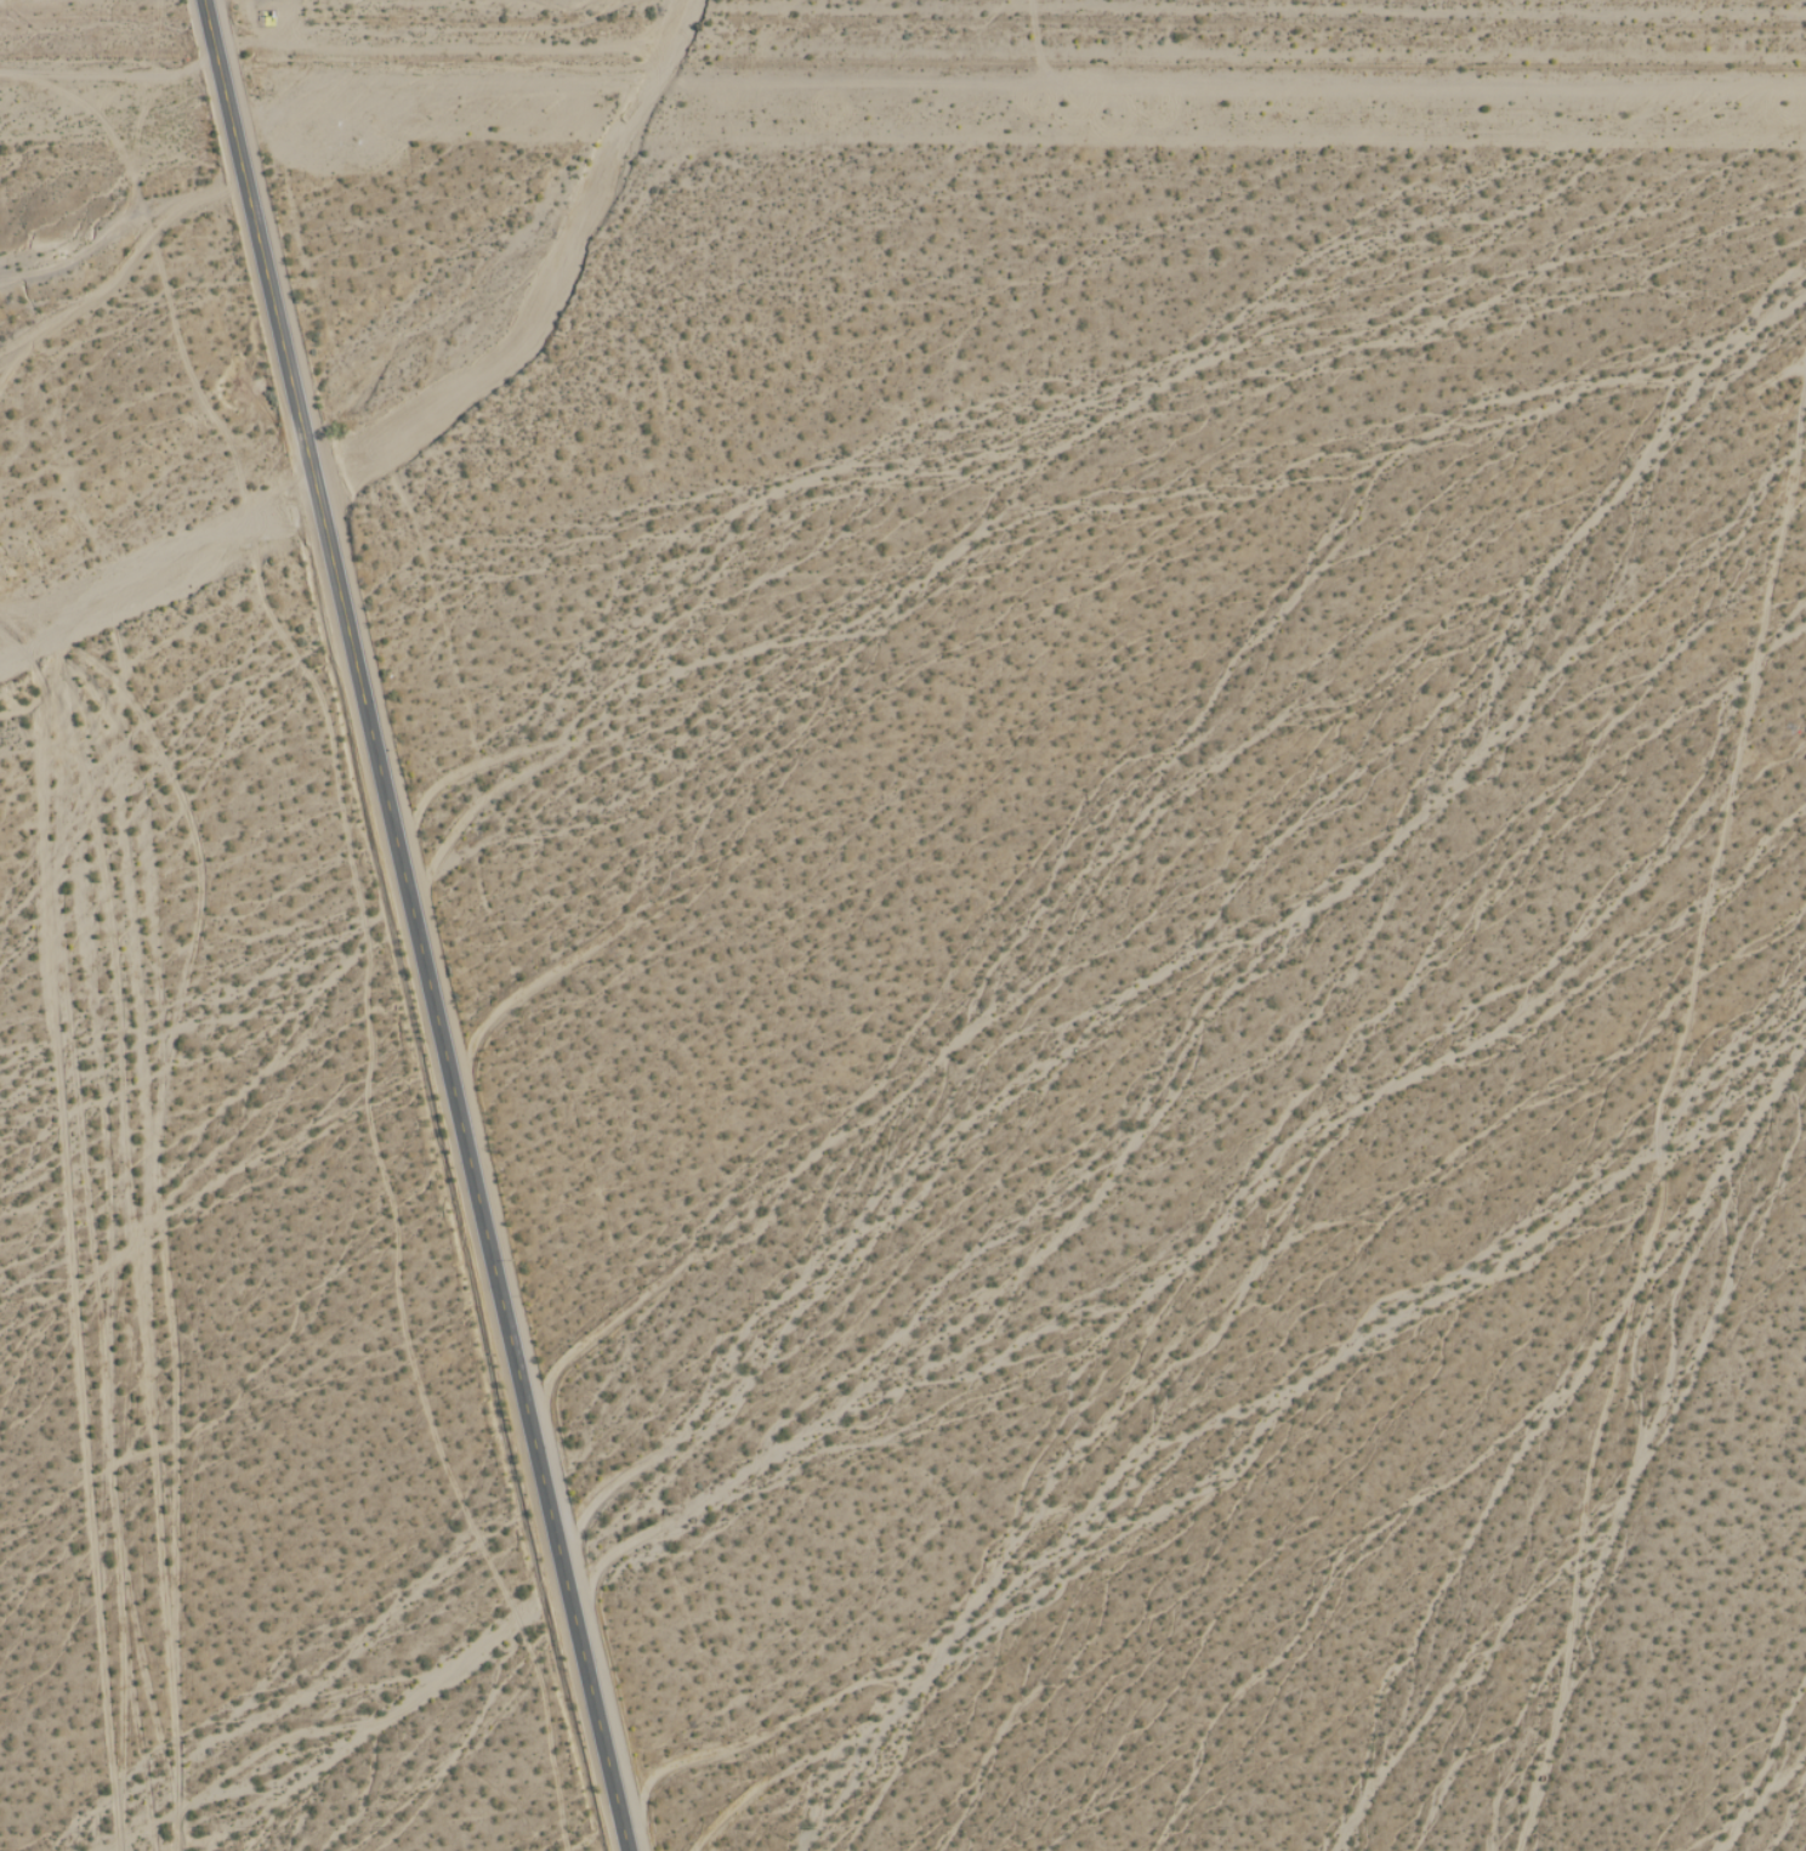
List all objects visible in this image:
road: (1777, 0)
road: (112, 69)
road: (416, 925)

